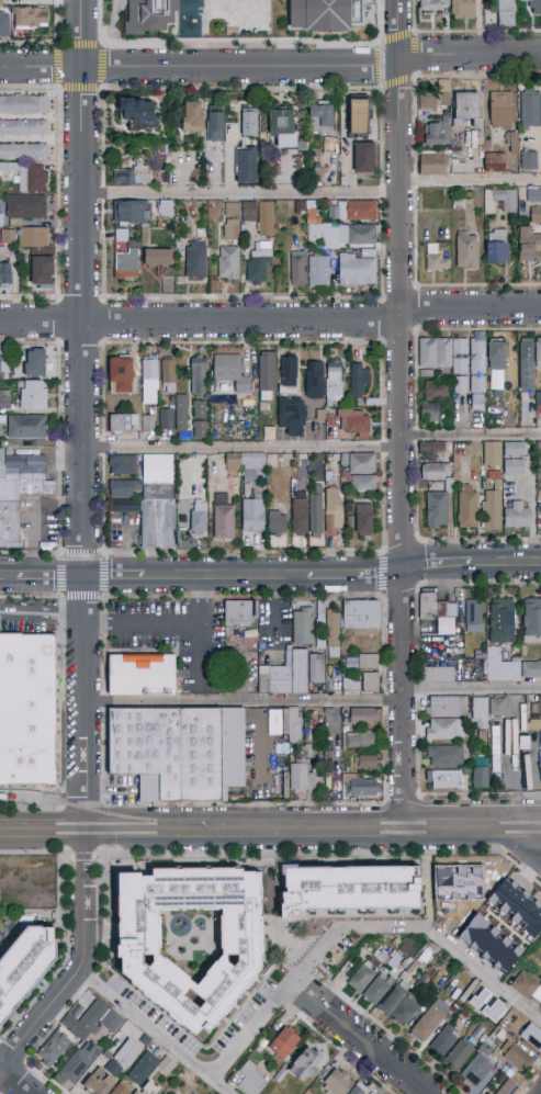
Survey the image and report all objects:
building: (0, 1)
building: (433, 5)
building: (536, 8)
building: (463, 10)
building: (506, 13)
building: (327, 14)
building: (151, 15)
building: (32, 19)
building: (3, 23)
road: (271, 66)
building: (436, 98)
building: (23, 105)
building: (467, 108)
building: (500, 109)
building: (530, 109)
building: (137, 111)
building: (192, 116)
building: (350, 116)
building: (360, 116)
building: (320, 119)
building: (215, 124)
building: (250, 124)
building: (23, 127)
building: (282, 127)
building: (437, 133)
building: (509, 139)
building: (330, 145)
building: (23, 151)
building: (363, 157)
road: (399, 157)
building: (247, 160)
building: (529, 160)
building: (494, 162)
building: (435, 165)
building: (132, 177)
building: (32, 178)
road: (471, 180)
road: (241, 193)
building: (533, 195)
building: (504, 200)
building: (26, 206)
building: (165, 208)
building: (232, 210)
building: (352, 210)
building: (131, 212)
building: (259, 216)
building: (537, 216)
building: (232, 228)
building: (335, 229)
building: (121, 236)
building: (33, 237)
building: (497, 247)
building: (530, 247)
building: (466, 249)
building: (158, 258)
building: (195, 259)
building: (436, 259)
building: (229, 263)
building: (126, 264)
building: (259, 264)
building: (358, 269)
building: (308, 270)
building: (4, 271)
building: (43, 271)
road: (270, 318)
building: (539, 352)
building: (497, 356)
building: (446, 358)
building: (36, 363)
building: (527, 364)
building: (477, 365)
building: (3, 366)
building: (230, 372)
building: (169, 375)
building: (199, 375)
building: (267, 375)
building: (288, 375)
building: (121, 376)
building: (314, 380)
building: (359, 380)
building: (334, 381)
building: (149, 382)
building: (437, 391)
building: (33, 395)
building: (4, 398)
building: (540, 398)
building: (200, 409)
building: (428, 413)
building: (291, 414)
road: (86, 415)
building: (176, 415)
building: (353, 421)
building: (124, 422)
building: (149, 422)
building: (1, 427)
building: (27, 427)
building: (200, 430)
road: (471, 435)
road: (244, 446)
building: (516, 449)
building: (432, 451)
building: (492, 453)
building: (245, 462)
building: (362, 463)
building: (123, 465)
building: (515, 466)
building: (433, 472)
building: (363, 483)
building: (19, 496)
building: (150, 500)
building: (467, 507)
building: (493, 507)
building: (437, 509)
building: (334, 510)
building: (253, 512)
building: (307, 515)
building: (517, 515)
building: (199, 518)
building: (364, 519)
building: (225, 521)
building: (277, 522)
road: (509, 562)
road: (441, 564)
road: (405, 572)
road: (356, 576)
road: (225, 577)
road: (8, 578)
road: (52, 578)
traffic signals: (88, 578)
road: (116, 578)
road: (43, 611)
building: (320, 611)
road: (269, 612)
building: (438, 612)
building: (239, 617)
building: (474, 617)
building: (361, 618)
building: (501, 621)
building: (532, 621)
road: (201, 628)
building: (303, 628)
road: (144, 630)
building: (333, 634)
building: (477, 655)
building: (369, 662)
building: (501, 667)
building: (531, 669)
building: (290, 674)
building: (316, 674)
building: (438, 674)
building: (142, 676)
building: (371, 681)
building: (351, 685)
road: (473, 688)
road: (246, 702)
building: (533, 704)
building: (447, 707)
building: (497, 707)
building: (23, 708)
building: (481, 713)
building: (362, 715)
building: (279, 722)
building: (534, 724)
building: (294, 725)
building: (442, 730)
building: (483, 736)
building: (508, 737)
building: (362, 740)
building: (233, 749)
building: (282, 749)
building: (168, 752)
building: (308, 752)
building: (446, 756)
building: (539, 757)
building: (347, 758)
building: (365, 762)
building: (466, 772)
building: (481, 774)
building: (444, 778)
building: (304, 779)
building: (361, 786)
railway: (270, 825)
road: (527, 828)
road: (246, 830)
road: (459, 830)
road: (43, 831)
railway: (270, 834)
road: (526, 841)
building: (349, 888)
road: (87, 904)
building: (512, 905)
building: (191, 939)
building: (382, 957)
building: (407, 961)
building: (396, 962)
building: (24, 966)
road: (304, 968)
road: (484, 972)
building: (362, 978)
building: (528, 986)
building: (379, 989)
building: (393, 999)
building: (539, 1005)
building: (406, 1010)
building: (465, 1013)
building: (435, 1018)
building: (87, 1019)
building: (112, 1020)
building: (469, 1020)
road: (40, 1024)
road: (156, 1034)
building: (478, 1034)
building: (102, 1036)
building: (532, 1036)
road: (359, 1038)
building: (145, 1040)
building: (444, 1040)
building: (284, 1044)
building: (56, 1046)
building: (261, 1046)
building: (485, 1049)
building: (127, 1052)
building: (461, 1053)
building: (498, 1057)
building: (519, 1058)
building: (79, 1061)
building: (99, 1063)
building: (306, 1064)
building: (167, 1065)
building: (498, 1065)
building: (112, 1069)
building: (144, 1069)
building: (476, 1070)
building: (509, 1070)
building: (253, 1079)
building: (277, 1081)
road: (13, 1083)
building: (100, 1083)
building: (338, 1083)
building: (509, 1087)
building: (123, 1089)
building: (149, 1089)
building: (357, 1091)

